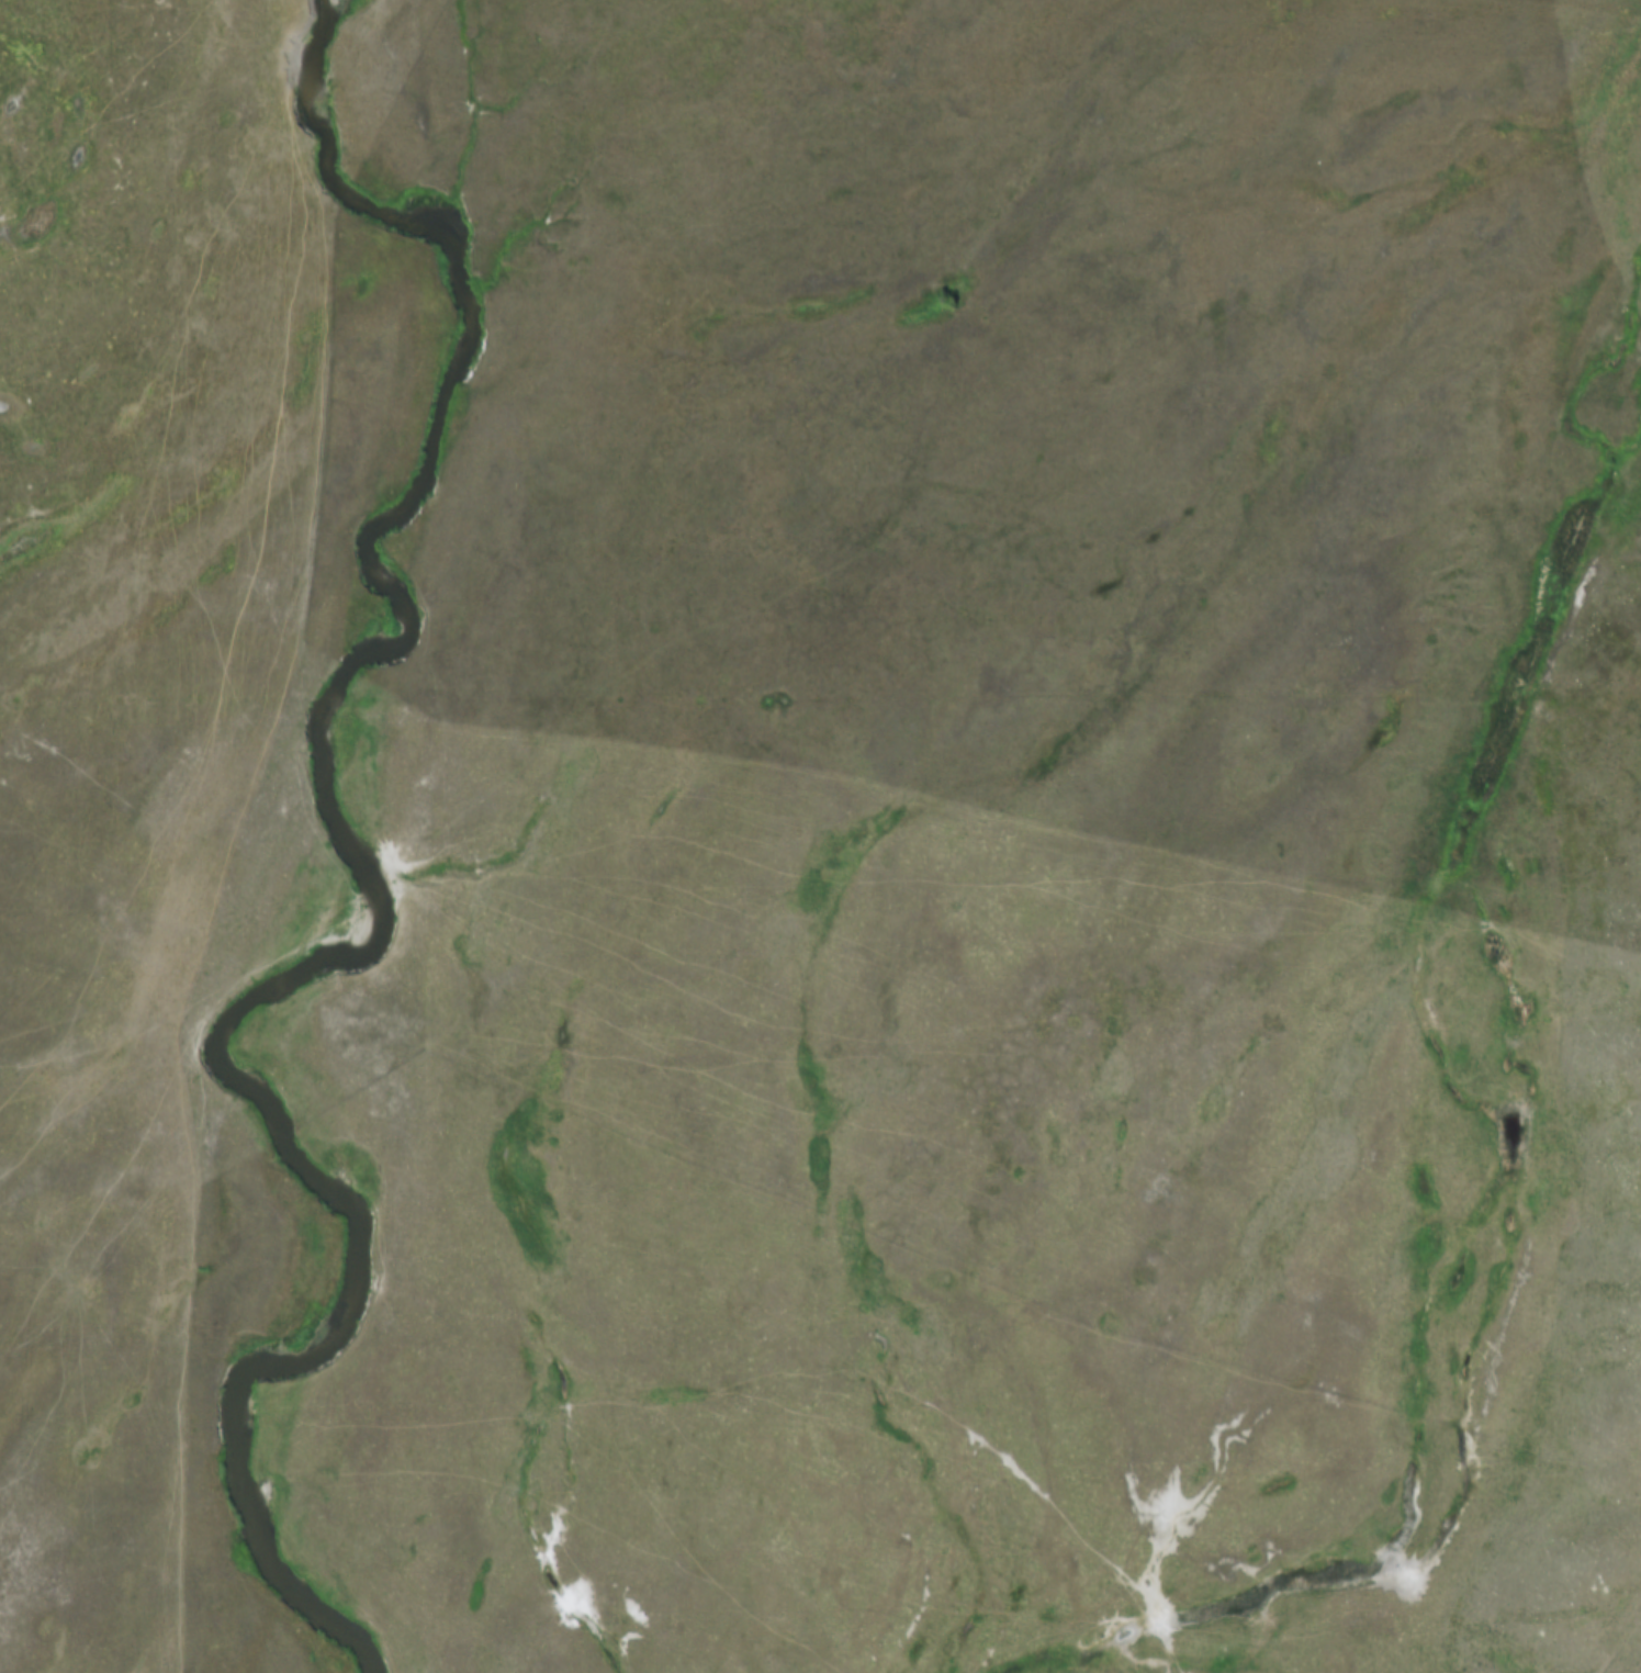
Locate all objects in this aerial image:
road: (1617, 1642)

